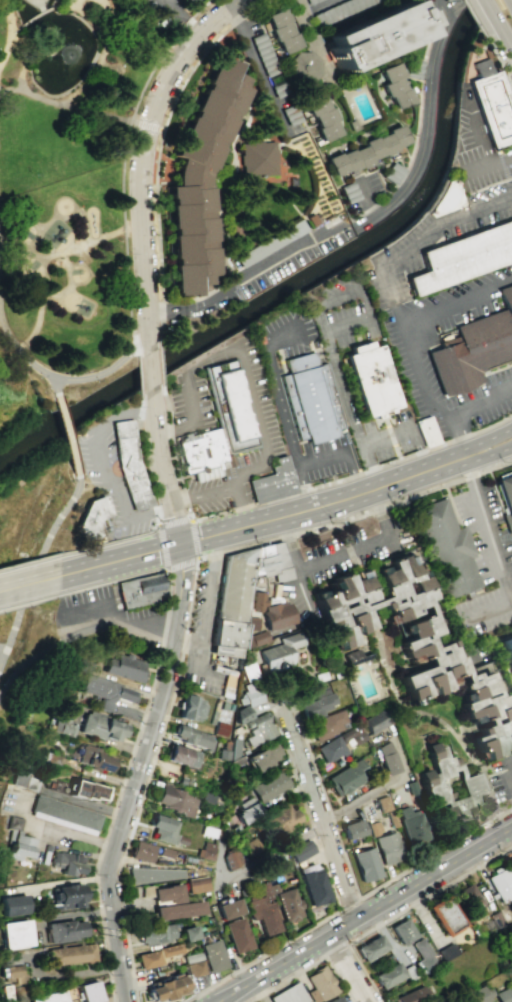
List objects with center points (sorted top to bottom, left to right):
building: (445, 0)
road: (75, 1)
road: (76, 1)
building: (311, 1)
parking lot: (193, 2)
building: (37, 4)
road: (168, 4)
road: (177, 4)
road: (323, 4)
building: (339, 10)
parking lot: (157, 11)
road: (490, 11)
road: (474, 16)
road: (31, 17)
road: (188, 21)
road: (106, 24)
road: (9, 29)
building: (282, 30)
road: (129, 31)
building: (377, 34)
road: (504, 36)
road: (161, 54)
building: (265, 54)
road: (497, 60)
building: (304, 66)
building: (413, 68)
road: (260, 70)
road: (87, 76)
building: (394, 85)
building: (281, 89)
road: (31, 93)
building: (491, 103)
building: (292, 114)
building: (323, 116)
road: (138, 123)
building: (351, 124)
road: (424, 124)
road: (155, 127)
road: (158, 148)
road: (483, 149)
building: (367, 150)
parking lot: (477, 150)
road: (139, 152)
building: (260, 158)
road: (489, 162)
park: (77, 171)
road: (121, 172)
building: (391, 172)
building: (200, 175)
road: (156, 178)
building: (292, 182)
building: (348, 191)
road: (364, 199)
building: (313, 217)
road: (422, 235)
building: (270, 243)
road: (62, 252)
building: (462, 258)
road: (246, 279)
road: (504, 281)
road: (127, 288)
parking lot: (433, 293)
road: (339, 296)
road: (365, 301)
road: (39, 307)
road: (322, 316)
road: (348, 322)
road: (0, 325)
road: (404, 327)
road: (280, 342)
building: (475, 348)
road: (25, 360)
road: (159, 364)
road: (108, 368)
road: (150, 371)
road: (139, 375)
parking lot: (340, 379)
building: (367, 380)
parking lot: (255, 397)
building: (226, 398)
parking lot: (272, 398)
parking lot: (186, 403)
building: (311, 404)
parking lot: (480, 405)
road: (282, 406)
road: (59, 407)
road: (352, 408)
road: (463, 411)
road: (196, 423)
road: (260, 424)
parking lot: (440, 429)
building: (425, 433)
road: (388, 438)
road: (486, 438)
road: (69, 451)
road: (173, 453)
road: (489, 455)
road: (320, 458)
parking lot: (324, 461)
road: (139, 463)
building: (128, 465)
road: (102, 467)
road: (161, 471)
road: (354, 473)
building: (272, 481)
parking lot: (113, 486)
road: (222, 491)
building: (505, 497)
park: (51, 511)
road: (383, 513)
road: (355, 514)
building: (89, 520)
road: (263, 521)
road: (158, 527)
road: (488, 527)
road: (109, 541)
road: (45, 542)
road: (290, 543)
traffic signals: (178, 544)
building: (447, 550)
road: (347, 552)
parking lot: (354, 552)
road: (29, 560)
parking lot: (484, 566)
building: (249, 581)
road: (29, 582)
road: (179, 582)
building: (140, 591)
road: (28, 602)
road: (205, 602)
road: (490, 611)
building: (278, 615)
parking lot: (110, 617)
road: (114, 618)
parking lot: (201, 632)
building: (227, 637)
road: (8, 638)
building: (257, 639)
road: (58, 641)
road: (186, 644)
building: (417, 647)
building: (282, 650)
building: (507, 652)
building: (351, 655)
road: (162, 656)
road: (171, 658)
building: (123, 669)
road: (6, 679)
building: (228, 681)
building: (105, 693)
building: (252, 694)
building: (318, 703)
road: (276, 705)
building: (189, 709)
building: (243, 714)
building: (376, 720)
building: (328, 724)
building: (66, 725)
building: (99, 727)
building: (260, 729)
road: (137, 732)
building: (190, 737)
building: (340, 743)
building: (181, 757)
building: (264, 757)
building: (387, 758)
building: (94, 760)
road: (510, 764)
building: (20, 774)
building: (346, 778)
parking lot: (501, 778)
road: (146, 779)
road: (509, 783)
building: (451, 786)
building: (268, 787)
building: (84, 791)
building: (175, 801)
building: (382, 804)
building: (245, 812)
building: (63, 815)
road: (319, 817)
building: (390, 819)
building: (276, 822)
building: (411, 828)
building: (372, 829)
building: (162, 830)
building: (351, 831)
road: (114, 845)
building: (18, 848)
road: (279, 848)
building: (386, 849)
building: (205, 852)
building: (299, 852)
building: (141, 853)
building: (164, 854)
building: (230, 860)
building: (510, 860)
building: (66, 864)
building: (364, 865)
building: (150, 876)
building: (501, 881)
building: (195, 886)
building: (311, 888)
building: (166, 895)
building: (65, 898)
building: (468, 898)
road: (347, 902)
building: (12, 906)
building: (286, 906)
building: (227, 909)
road: (421, 910)
building: (177, 911)
road: (399, 911)
building: (261, 916)
road: (366, 916)
building: (445, 916)
building: (496, 919)
building: (402, 930)
building: (63, 931)
building: (509, 933)
building: (187, 934)
building: (14, 935)
building: (154, 935)
building: (235, 936)
building: (370, 947)
road: (334, 949)
building: (445, 951)
building: (422, 954)
building: (71, 955)
building: (212, 956)
building: (156, 957)
road: (307, 965)
road: (349, 968)
building: (193, 969)
building: (13, 975)
building: (388, 975)
building: (319, 983)
building: (163, 989)
building: (88, 993)
building: (69, 994)
building: (288, 994)
building: (478, 994)
building: (410, 995)
building: (502, 995)
building: (9, 996)
building: (49, 998)
building: (333, 999)

